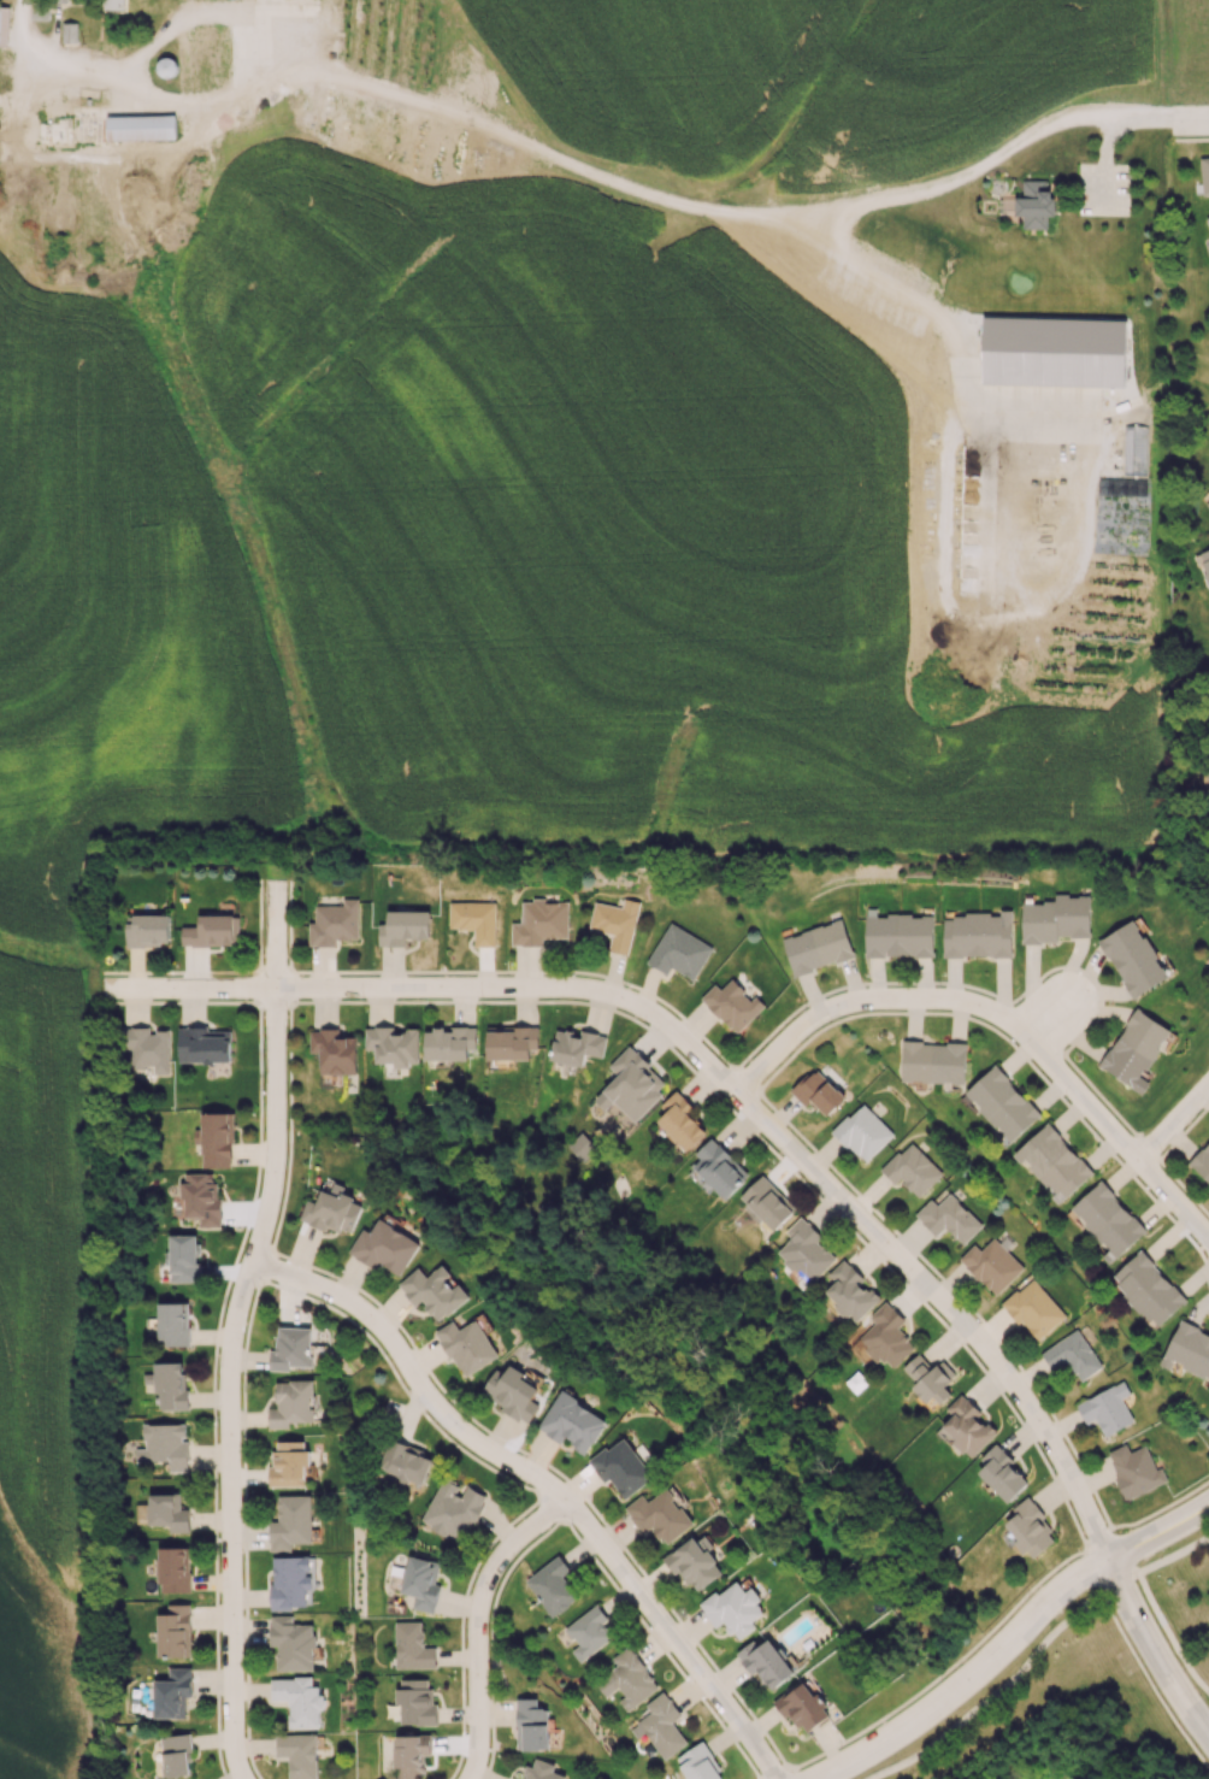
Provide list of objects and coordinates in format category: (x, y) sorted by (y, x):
building: (59, 0)
building: (113, 5)
building: (39, 10)
road: (199, 10)
building: (4, 25)
building: (69, 31)
crop: (1183, 49)
road: (1193, 123)
building: (141, 126)
road: (1109, 139)
road: (1191, 140)
road: (577, 164)
building: (1204, 175)
parking lot: (1103, 188)
building: (1034, 204)
building: (1208, 218)
road: (944, 334)
building: (1054, 351)
building: (1208, 503)
crop: (542, 547)
building: (1204, 562)
building: (1208, 720)
building: (1207, 771)
building: (1055, 918)
building: (474, 920)
building: (539, 921)
building: (334, 923)
building: (615, 923)
building: (403, 926)
building: (147, 929)
building: (212, 930)
road: (276, 933)
building: (898, 935)
building: (978, 935)
building: (816, 947)
building: (679, 952)
building: (1133, 958)
building: (1208, 962)
building: (731, 1005)
road: (999, 1018)
road: (1049, 1025)
building: (511, 1042)
building: (450, 1043)
building: (204, 1044)
building: (393, 1044)
building: (576, 1047)
building: (147, 1048)
building: (1136, 1049)
building: (334, 1052)
building: (933, 1061)
road: (713, 1074)
building: (632, 1084)
building: (818, 1091)
building: (1002, 1102)
building: (680, 1120)
road: (1178, 1130)
building: (862, 1132)
building: (216, 1139)
building: (582, 1145)
building: (1052, 1161)
building: (1202, 1161)
building: (719, 1167)
building: (912, 1170)
building: (201, 1198)
building: (767, 1202)
building: (332, 1212)
building: (948, 1218)
building: (1108, 1220)
building: (384, 1248)
building: (804, 1250)
building: (182, 1256)
building: (991, 1265)
building: (1148, 1289)
building: (850, 1290)
building: (434, 1291)
building: (1033, 1309)
building: (172, 1323)
building: (886, 1336)
building: (467, 1345)
building: (291, 1348)
building: (1189, 1349)
building: (1072, 1354)
building: (928, 1379)
road: (229, 1382)
building: (170, 1384)
building: (512, 1392)
building: (291, 1403)
building: (1107, 1408)
building: (572, 1421)
building: (164, 1445)
building: (289, 1462)
building: (405, 1462)
building: (621, 1467)
building: (1134, 1469)
building: (1002, 1473)
road: (542, 1484)
building: (453, 1508)
building: (167, 1512)
building: (659, 1515)
building: (291, 1521)
building: (1030, 1527)
road: (1160, 1533)
road: (1173, 1555)
building: (694, 1561)
building: (173, 1569)
building: (290, 1581)
building: (420, 1583)
building: (552, 1585)
building: (733, 1609)
road: (480, 1626)
building: (173, 1631)
building: (589, 1632)
road: (1168, 1634)
building: (293, 1643)
building: (412, 1647)
road: (1156, 1659)
building: (765, 1660)
building: (630, 1678)
road: (974, 1679)
road: (1009, 1681)
building: (172, 1693)
building: (299, 1700)
building: (415, 1701)
building: (803, 1708)
building: (531, 1724)
building: (662, 1725)
building: (176, 1754)
building: (299, 1754)
building: (409, 1754)
building: (698, 1763)
building: (541, 1771)
building: (515, 1778)

